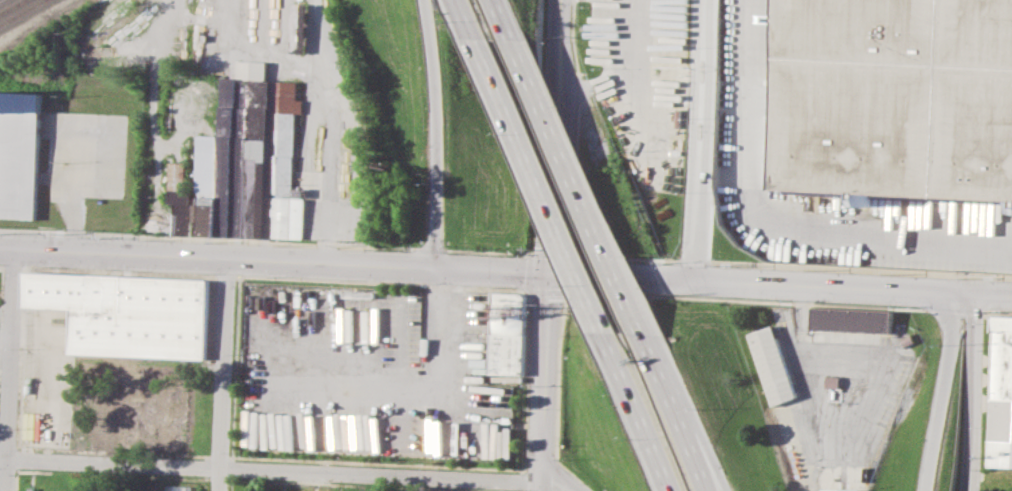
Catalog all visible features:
railway: (1, 0)
railway: (11, 6)
railway: (21, 12)
road: (468, 19)
road: (503, 20)
railway: (40, 23)
building: (298, 26)
railway: (188, 30)
road: (636, 83)
parking lot: (643, 83)
parking lot: (750, 93)
building: (899, 97)
road: (439, 133)
road: (555, 137)
road: (697, 140)
building: (20, 153)
parking lot: (87, 154)
building: (230, 161)
building: (286, 166)
road: (540, 185)
road: (73, 189)
road: (582, 190)
road: (774, 221)
road: (207, 238)
road: (428, 248)
road: (487, 251)
road: (548, 253)
road: (620, 256)
road: (691, 259)
road: (275, 261)
road: (859, 268)
road: (781, 286)
building: (125, 313)
building: (850, 321)
road: (440, 330)
building: (506, 334)
road: (801, 343)
building: (770, 366)
road: (9, 370)
road: (222, 375)
road: (548, 383)
road: (942, 391)
road: (974, 392)
building: (1001, 395)
road: (639, 410)
road: (679, 415)
road: (709, 467)
road: (272, 472)
road: (566, 483)
road: (970, 485)
building: (1007, 485)
building: (177, 487)
building: (842, 489)

